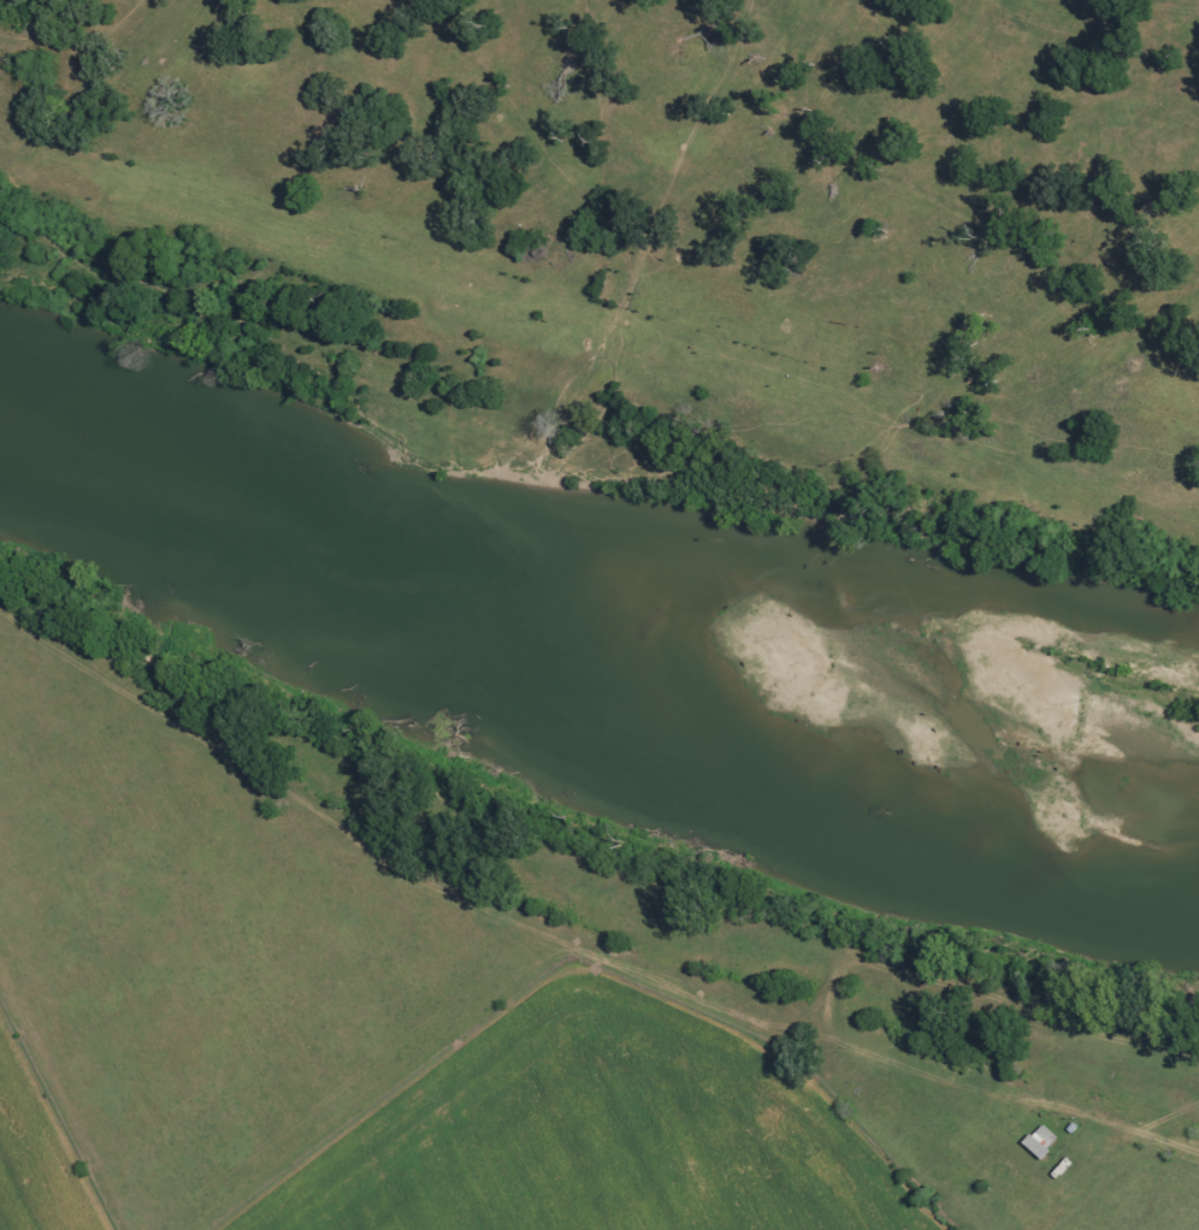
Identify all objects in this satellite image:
river: (596, 649)
building: (1041, 1141)

